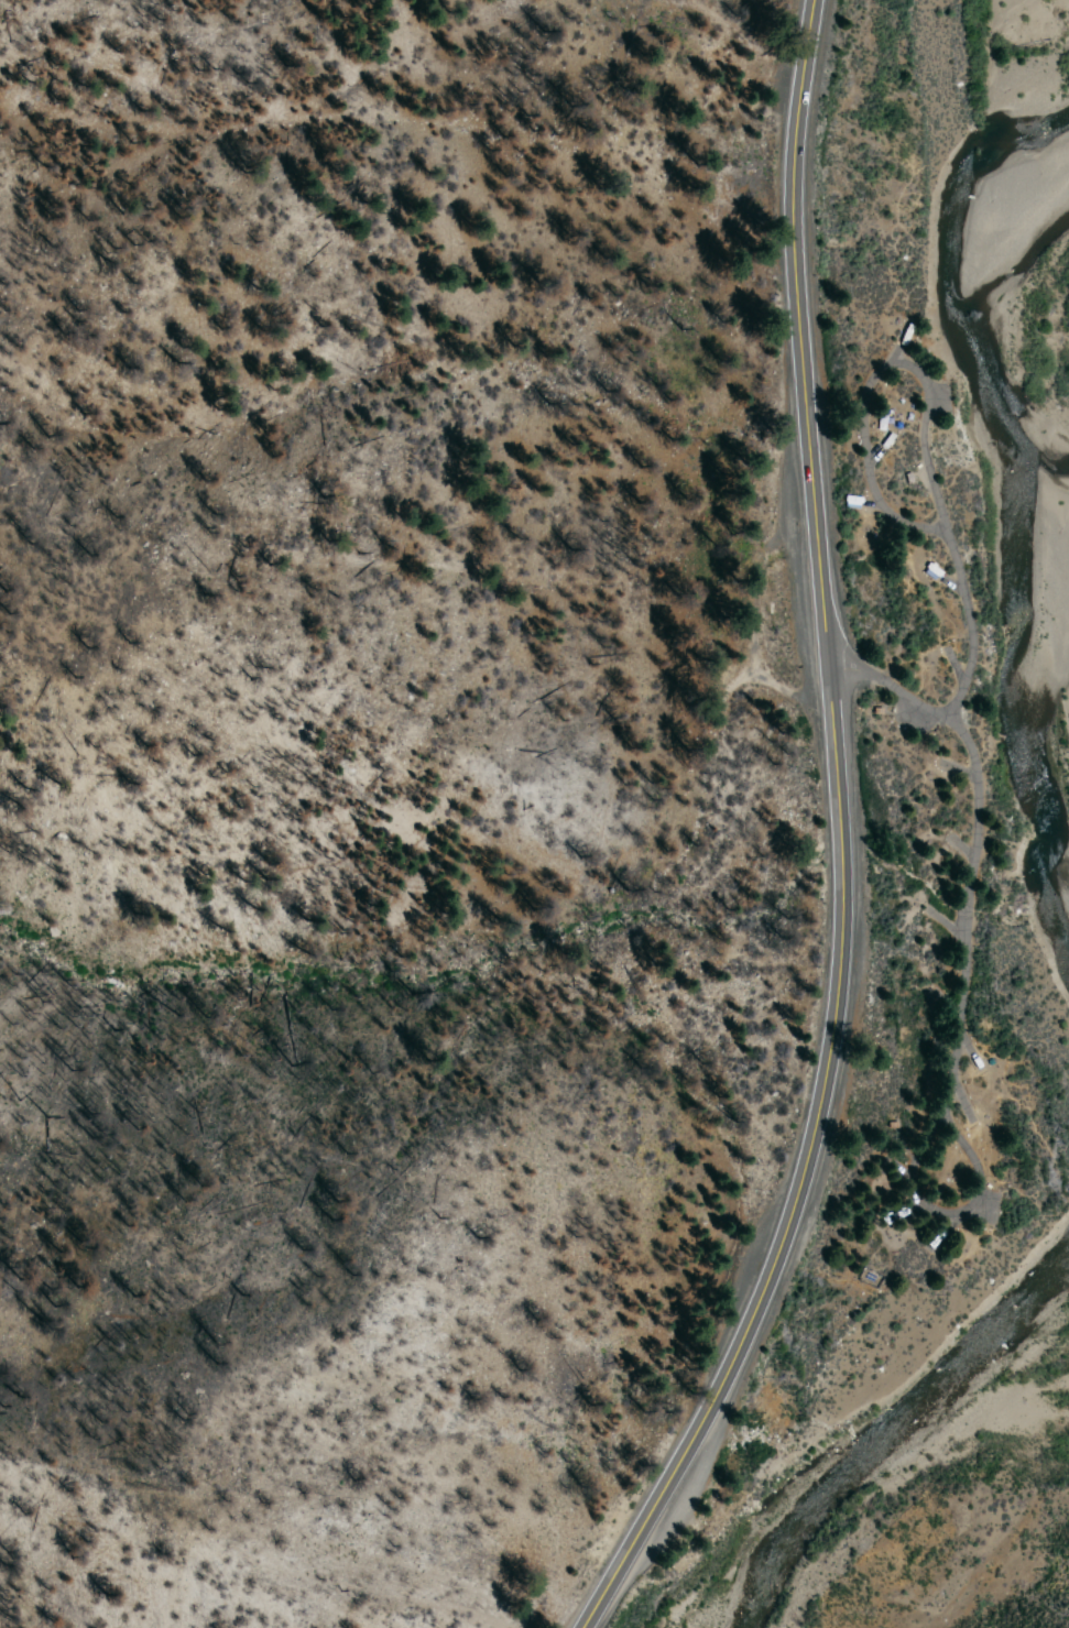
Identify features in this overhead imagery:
road: (874, 375)
building: (884, 440)
building: (853, 501)
river: (1036, 511)
road: (890, 687)
road: (838, 840)
road: (963, 949)
river: (880, 1432)

